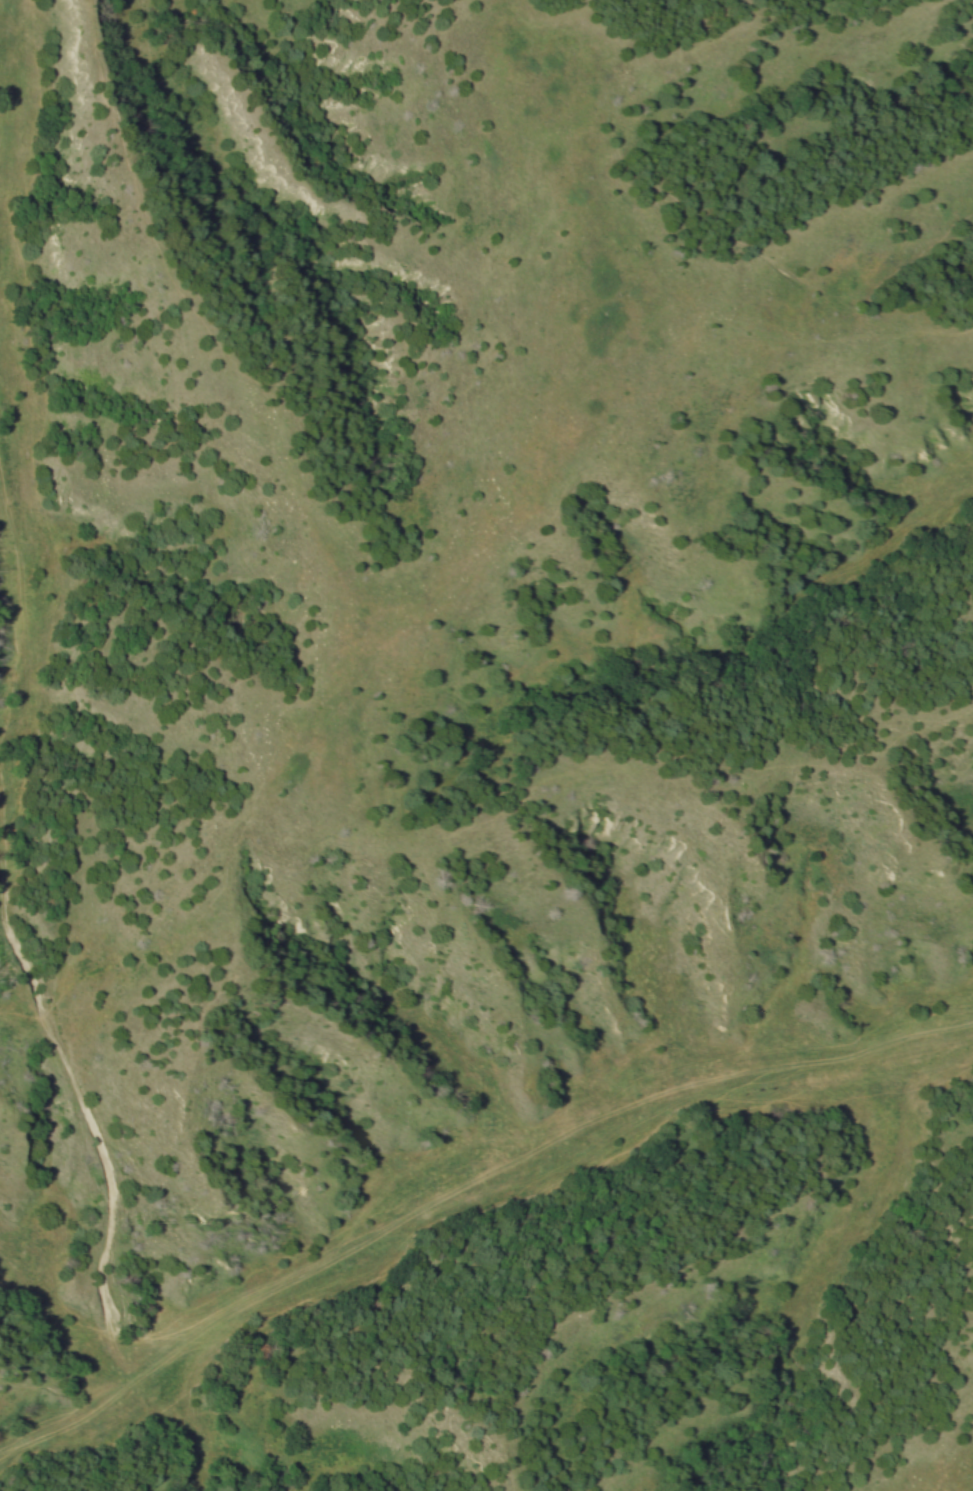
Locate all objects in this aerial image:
road: (4, 689)
road: (311, 1266)
road: (116, 1403)

